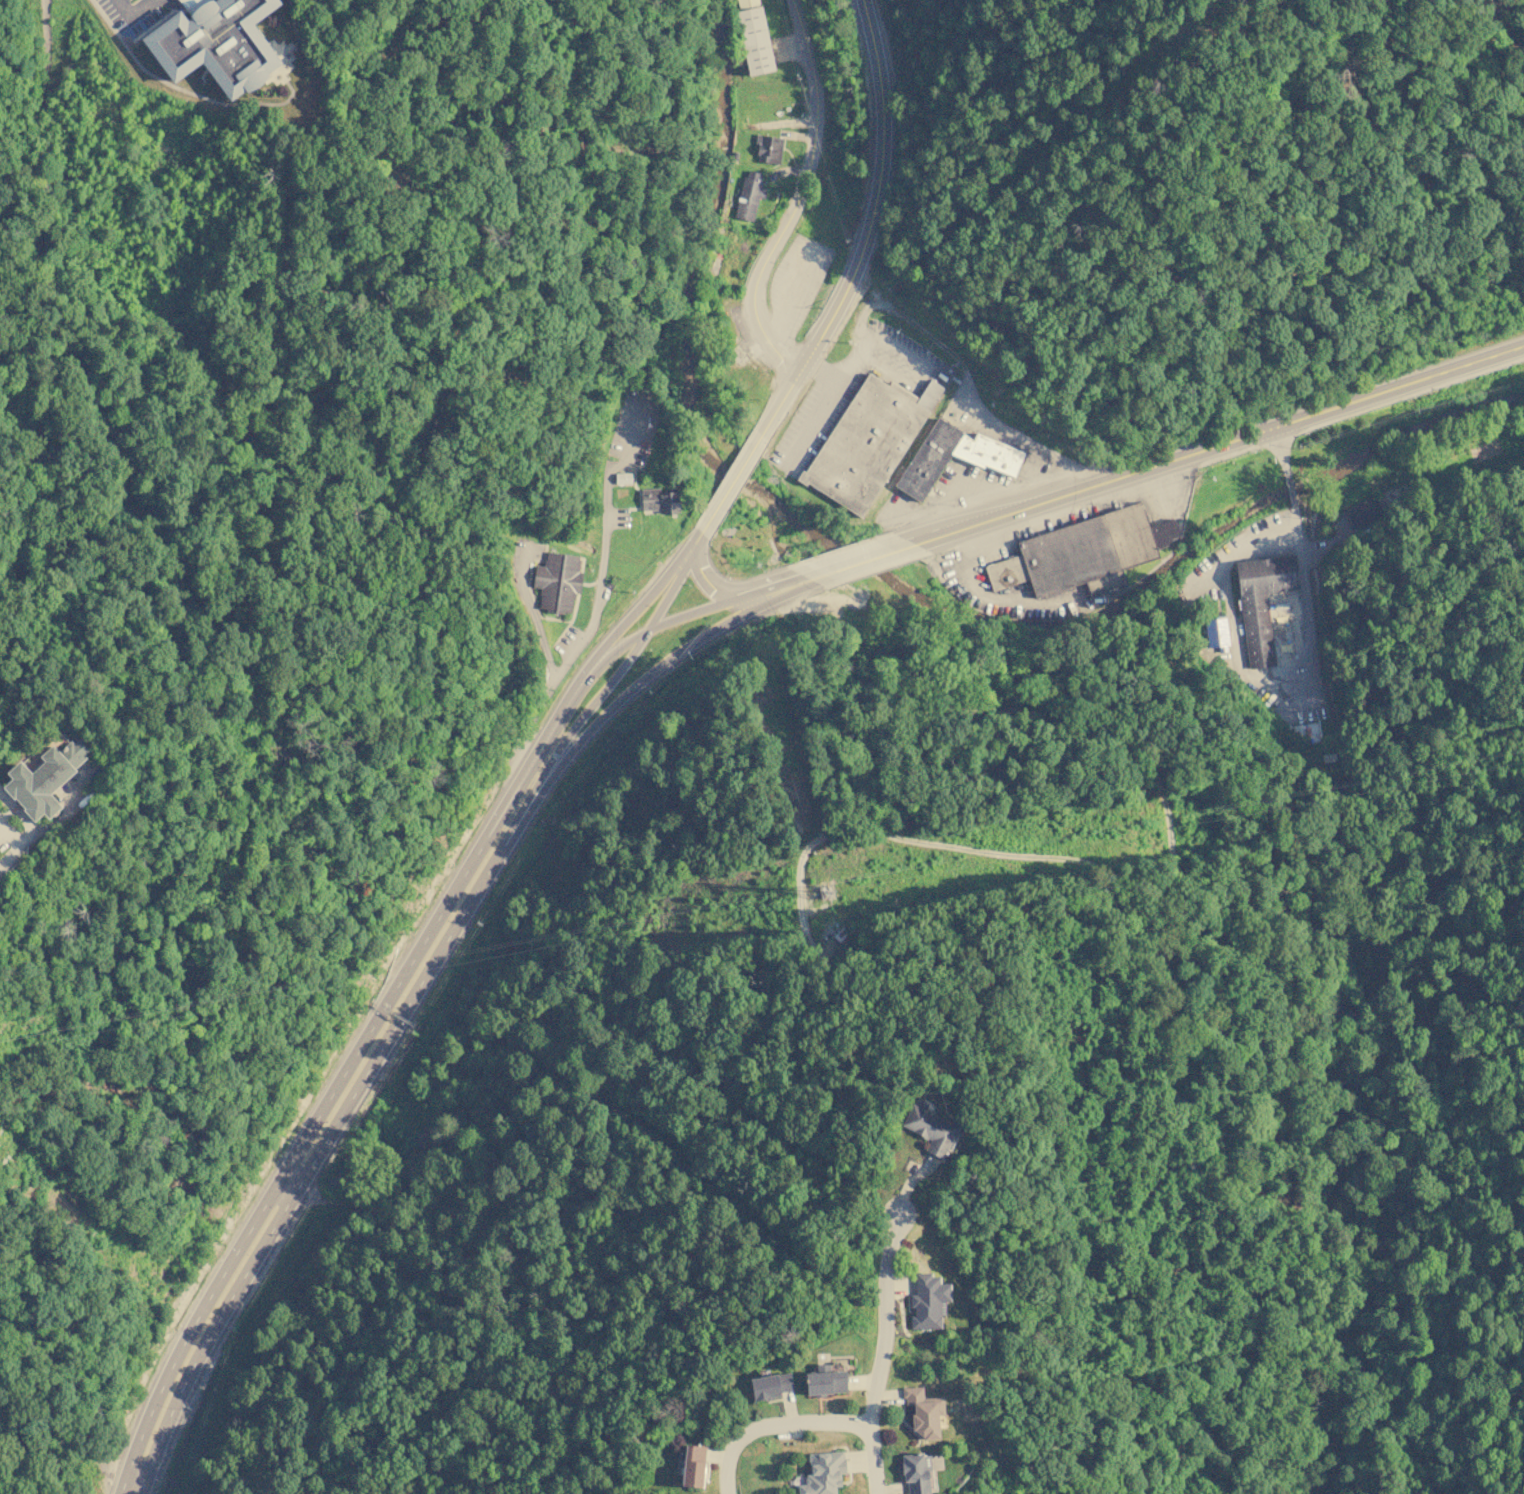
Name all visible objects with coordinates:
road: (127, 9)
road: (146, 9)
building: (753, 37)
building: (215, 42)
building: (768, 148)
building: (734, 155)
building: (749, 195)
road: (797, 197)
road: (868, 228)
parking lot: (635, 425)
road: (633, 428)
building: (867, 441)
road: (1219, 445)
road: (1279, 451)
building: (987, 453)
building: (928, 459)
building: (623, 478)
road: (731, 483)
road: (1290, 490)
building: (660, 500)
building: (1362, 512)
road: (691, 547)
building: (1085, 553)
road: (862, 561)
road: (706, 578)
building: (557, 581)
river: (898, 586)
road: (774, 589)
building: (1261, 601)
road: (746, 604)
road: (533, 616)
road: (592, 622)
building: (1216, 633)
road: (602, 646)
road: (621, 647)
road: (1252, 677)
road: (625, 695)
road: (585, 714)
road: (527, 768)
building: (53, 777)
road: (20, 809)
road: (62, 822)
road: (493, 826)
road: (21, 843)
building: (930, 1129)
road: (285, 1170)
road: (307, 1176)
road: (317, 1200)
building: (927, 1301)
road: (883, 1318)
building: (825, 1380)
building: (770, 1385)
building: (923, 1412)
road: (775, 1426)
road: (876, 1460)
building: (693, 1465)
building: (823, 1473)
building: (916, 1473)

